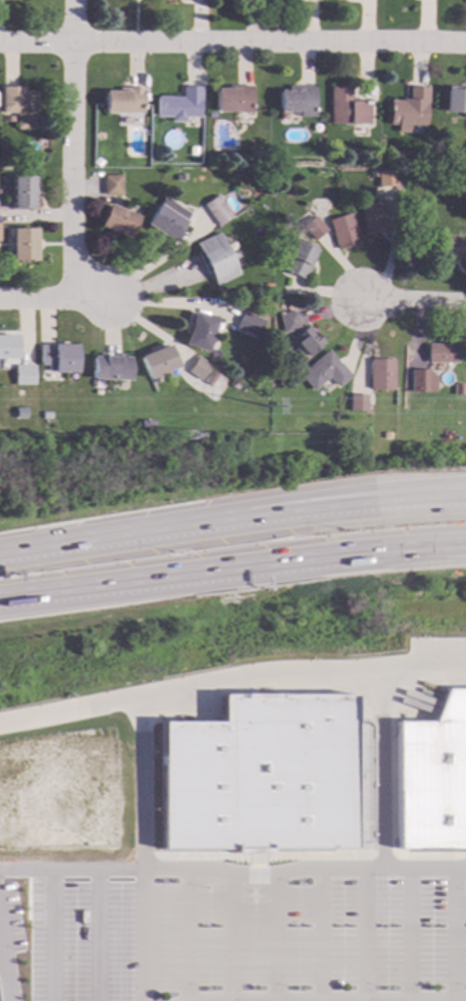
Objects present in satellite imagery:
building: (170, 1)
road: (233, 42)
building: (232, 100)
building: (123, 101)
building: (297, 101)
building: (455, 101)
building: (179, 106)
building: (20, 107)
building: (346, 108)
building: (408, 111)
building: (261, 139)
road: (72, 149)
building: (192, 152)
building: (26, 164)
building: (386, 179)
building: (464, 183)
building: (112, 186)
building: (22, 193)
building: (216, 211)
building: (305, 219)
building: (374, 219)
building: (118, 221)
building: (164, 224)
building: (314, 229)
building: (343, 232)
building: (23, 245)
building: (454, 248)
building: (216, 259)
building: (299, 261)
building: (267, 287)
road: (55, 299)
road: (414, 300)
building: (246, 305)
building: (288, 322)
building: (249, 325)
building: (199, 332)
building: (308, 341)
building: (8, 348)
building: (441, 354)
building: (58, 358)
building: (158, 363)
building: (110, 368)
building: (198, 369)
building: (324, 374)
building: (381, 375)
building: (23, 376)
building: (422, 381)
building: (289, 384)
building: (458, 390)
building: (358, 403)
building: (20, 413)
building: (45, 416)
power tower: (193, 419)
building: (147, 424)
building: (387, 437)
power tower: (194, 444)
road: (297, 496)
road: (298, 513)
road: (66, 542)
road: (436, 545)
road: (436, 548)
road: (202, 574)
road: (231, 677)
road: (382, 767)
building: (259, 775)
building: (431, 777)
road: (140, 847)
road: (303, 854)
road: (233, 873)
road: (39, 879)
road: (207, 882)
road: (252, 886)
road: (459, 888)
road: (27, 893)
road: (252, 895)
road: (39, 897)
road: (39, 917)
parking lot: (232, 931)
road: (50, 934)
road: (318, 934)
road: (363, 934)
road: (408, 934)
road: (452, 934)
road: (96, 935)
road: (185, 935)
road: (229, 936)
road: (274, 937)
road: (0, 959)
road: (3, 976)
road: (337, 999)
road: (203, 1000)
road: (452, 1000)

